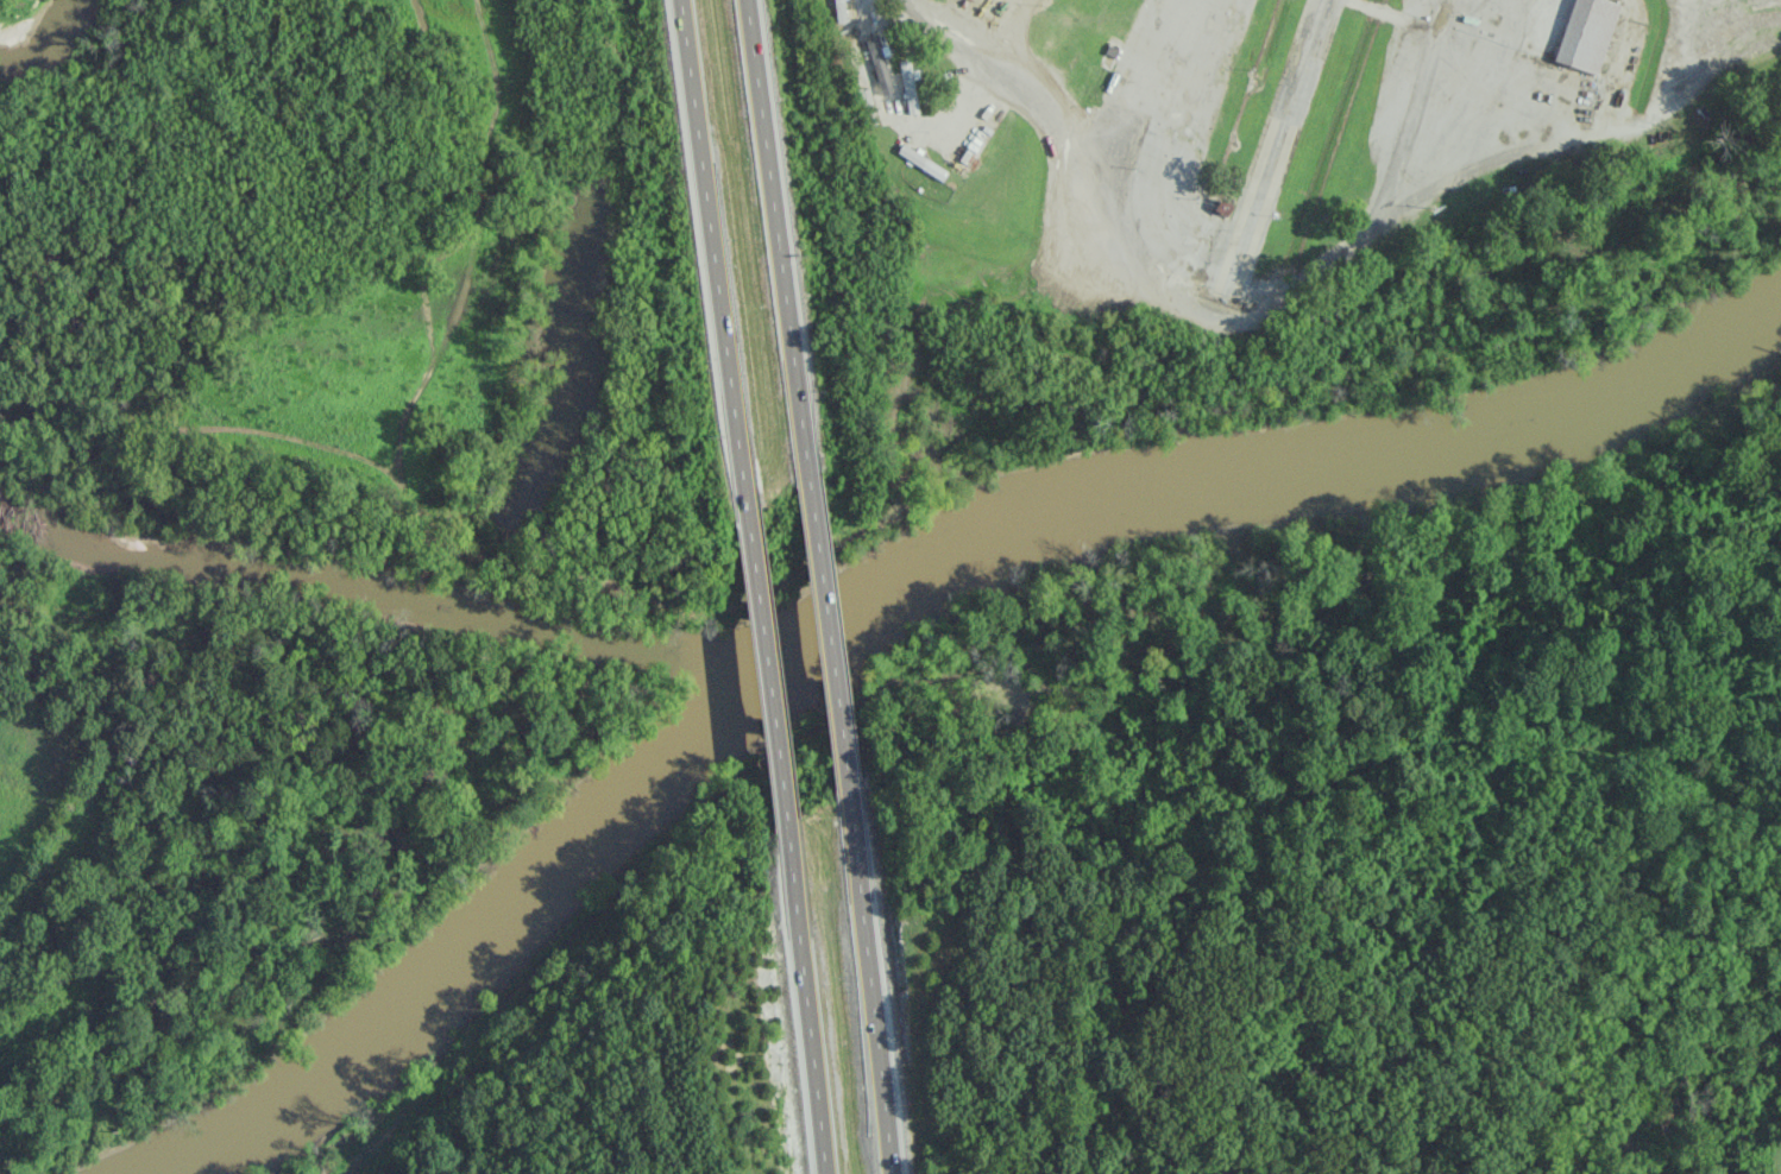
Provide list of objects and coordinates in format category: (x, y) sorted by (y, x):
building: (842, 10)
river: (51, 38)
building: (877, 64)
building: (907, 86)
building: (920, 160)
road: (775, 236)
road: (711, 257)
road: (1198, 311)
river: (379, 595)
road: (825, 630)
road: (764, 668)
road: (869, 979)
road: (805, 997)

